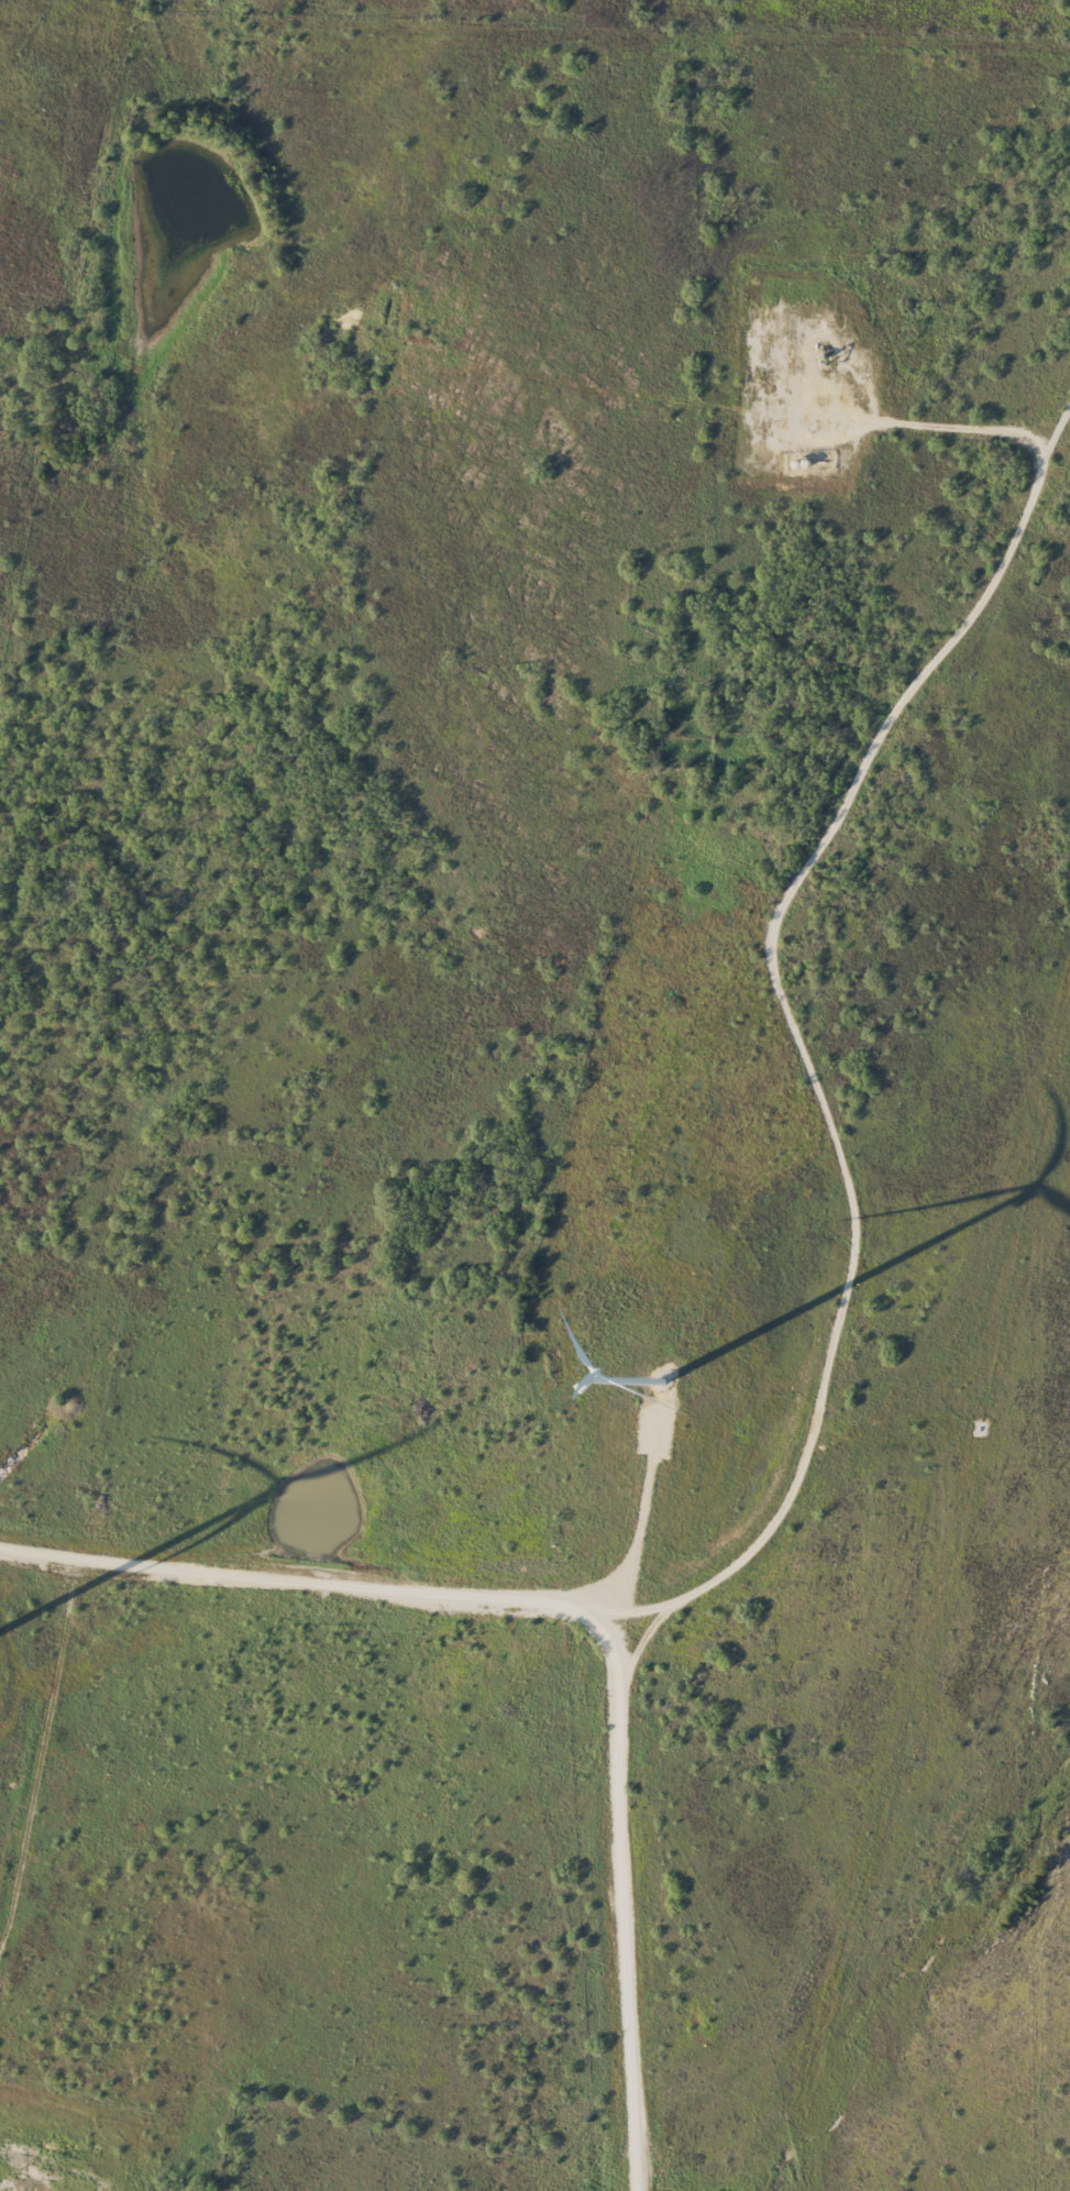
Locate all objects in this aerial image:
road: (856, 423)
road: (815, 1060)
wind turbine: (662, 1379)
road: (610, 1592)

